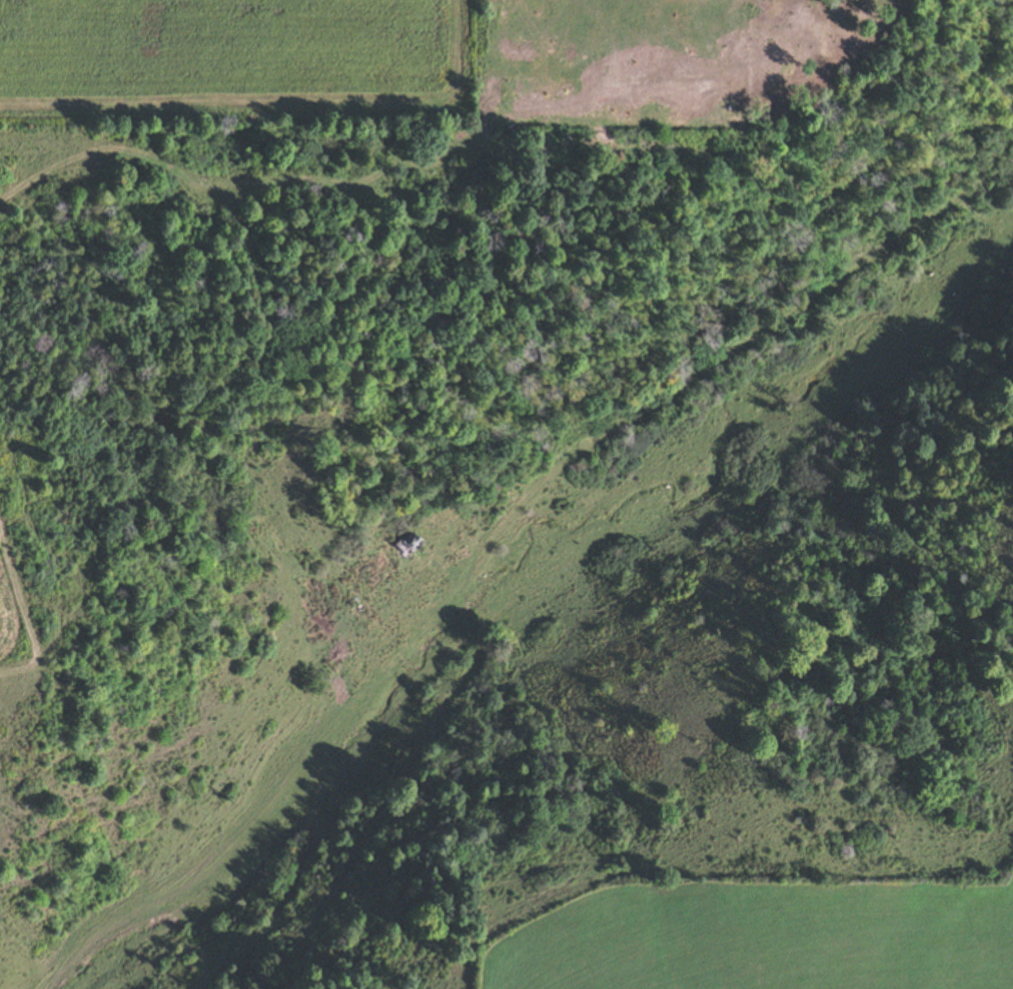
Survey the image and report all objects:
crop: (228, 59)
building: (404, 547)
crop: (766, 937)

